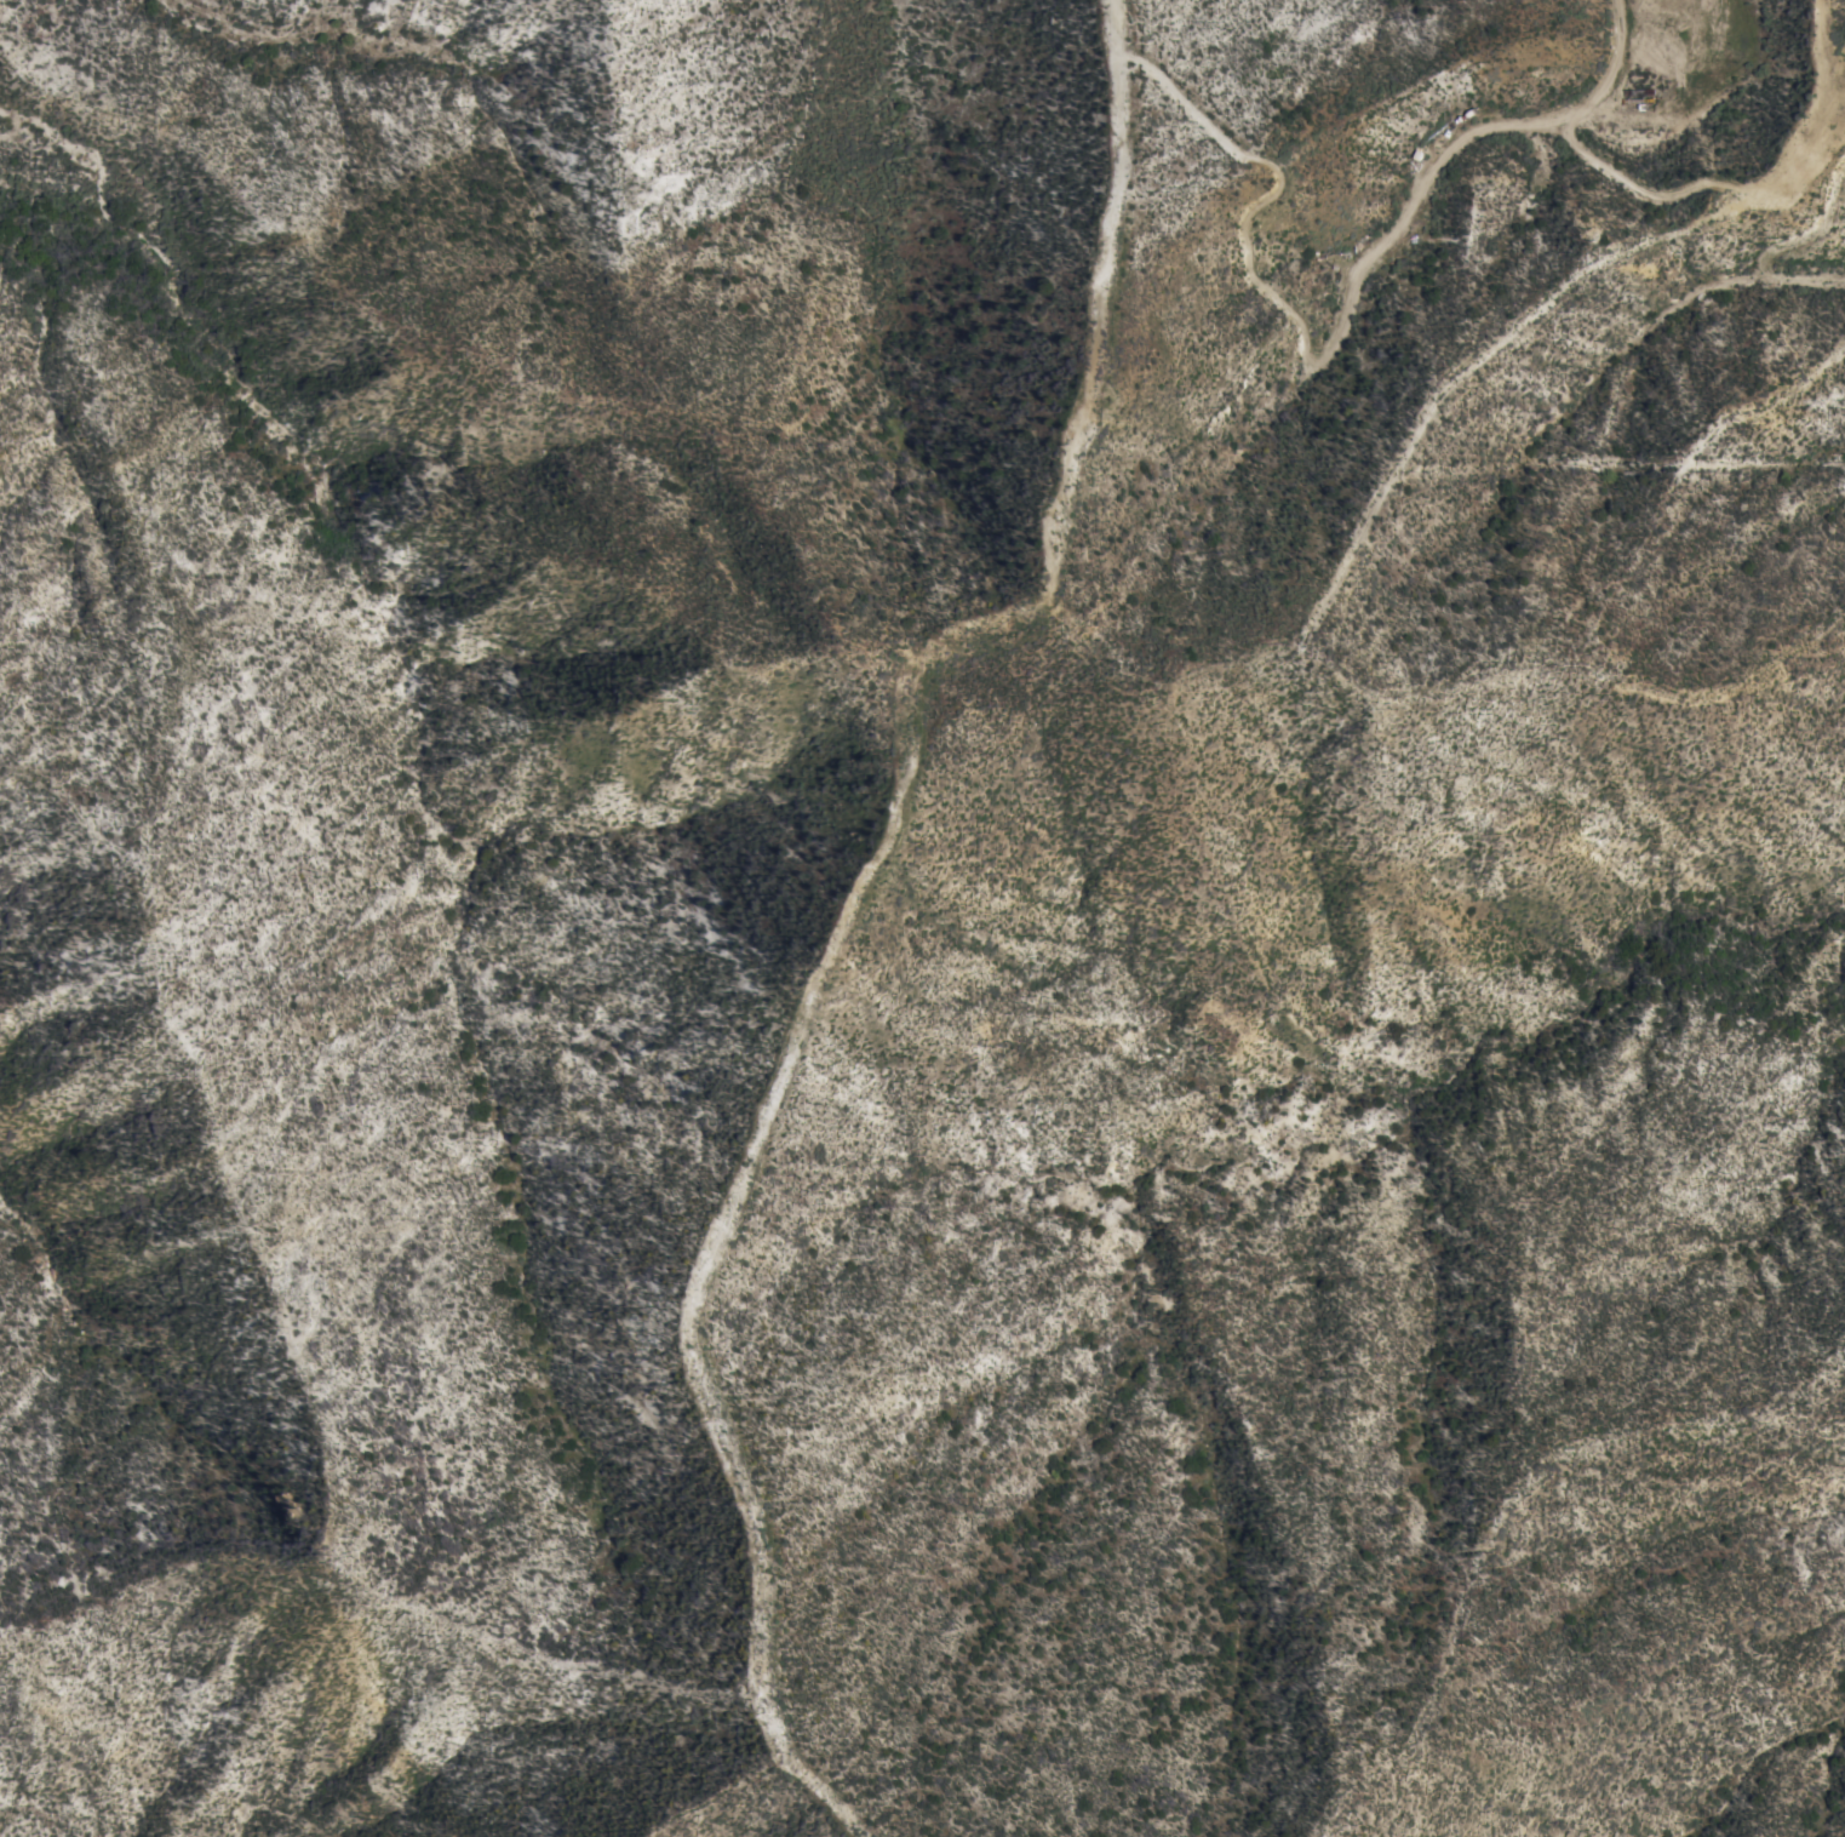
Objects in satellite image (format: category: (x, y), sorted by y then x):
building: (1641, 58)

